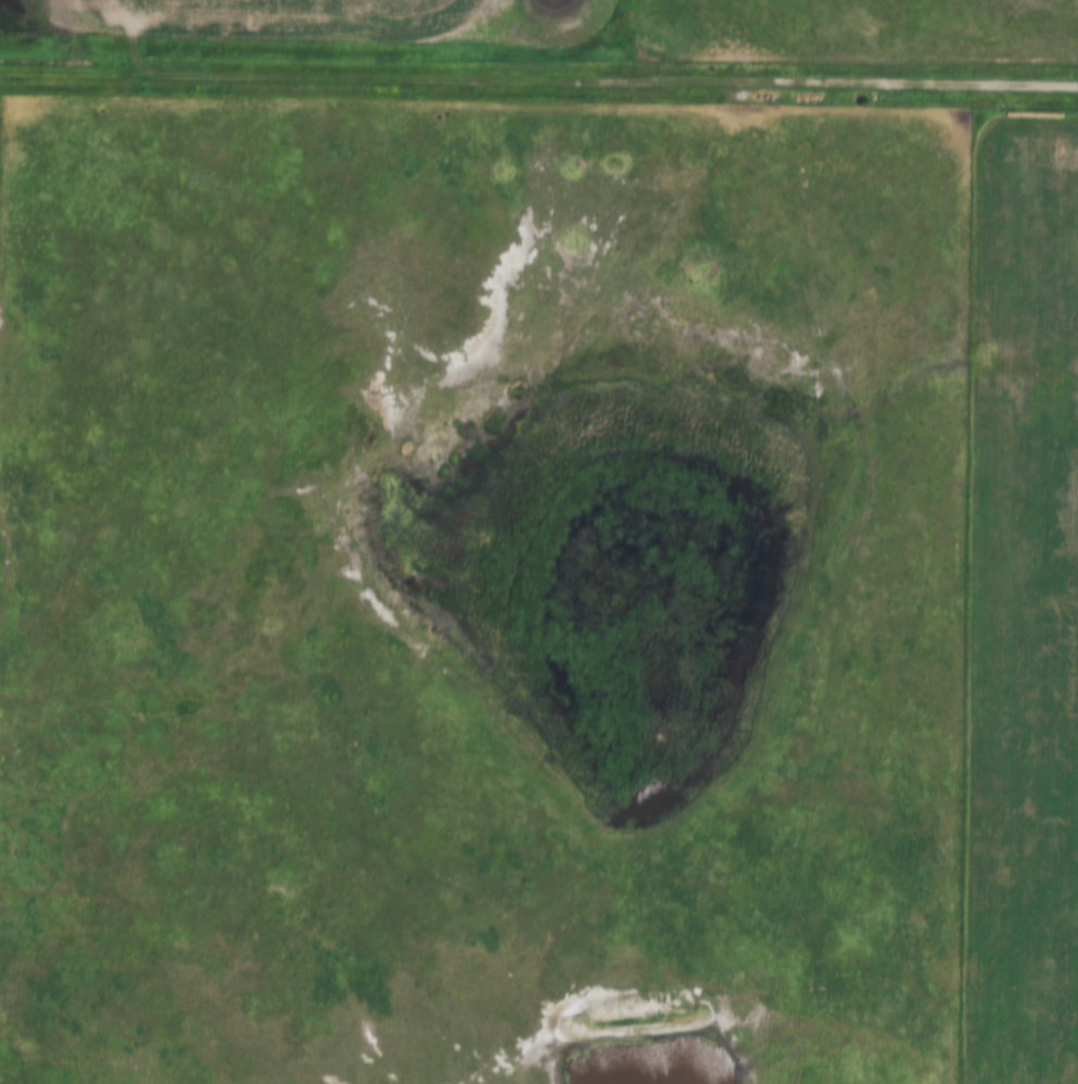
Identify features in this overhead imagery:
road: (538, 75)

